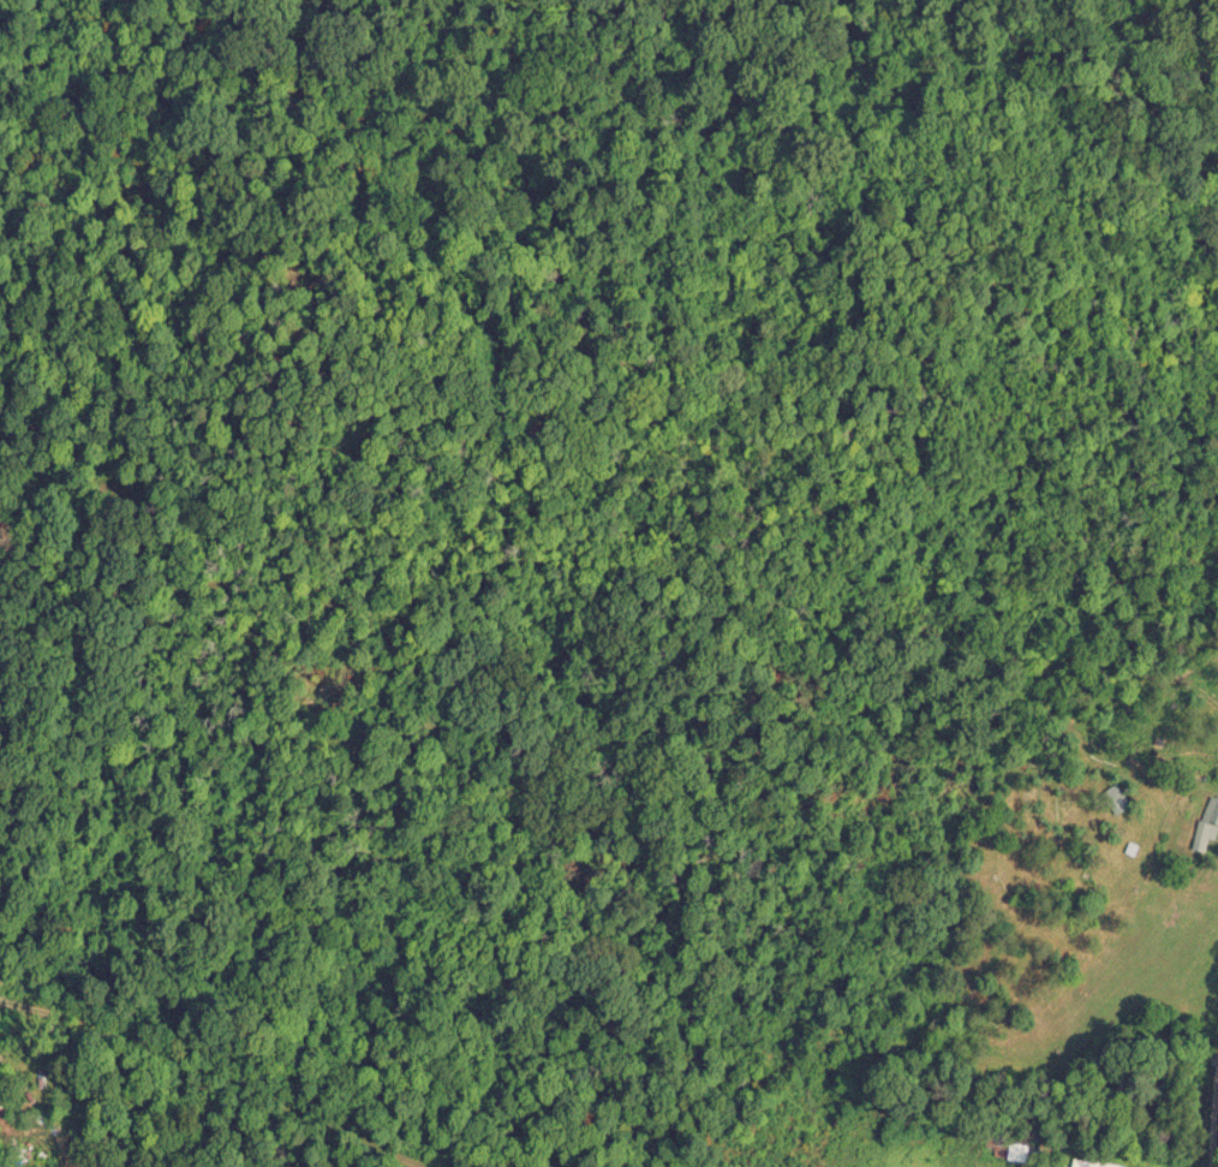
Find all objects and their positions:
building: (1208, 821)
road: (1214, 1048)
building: (1023, 1149)
building: (1097, 1161)

